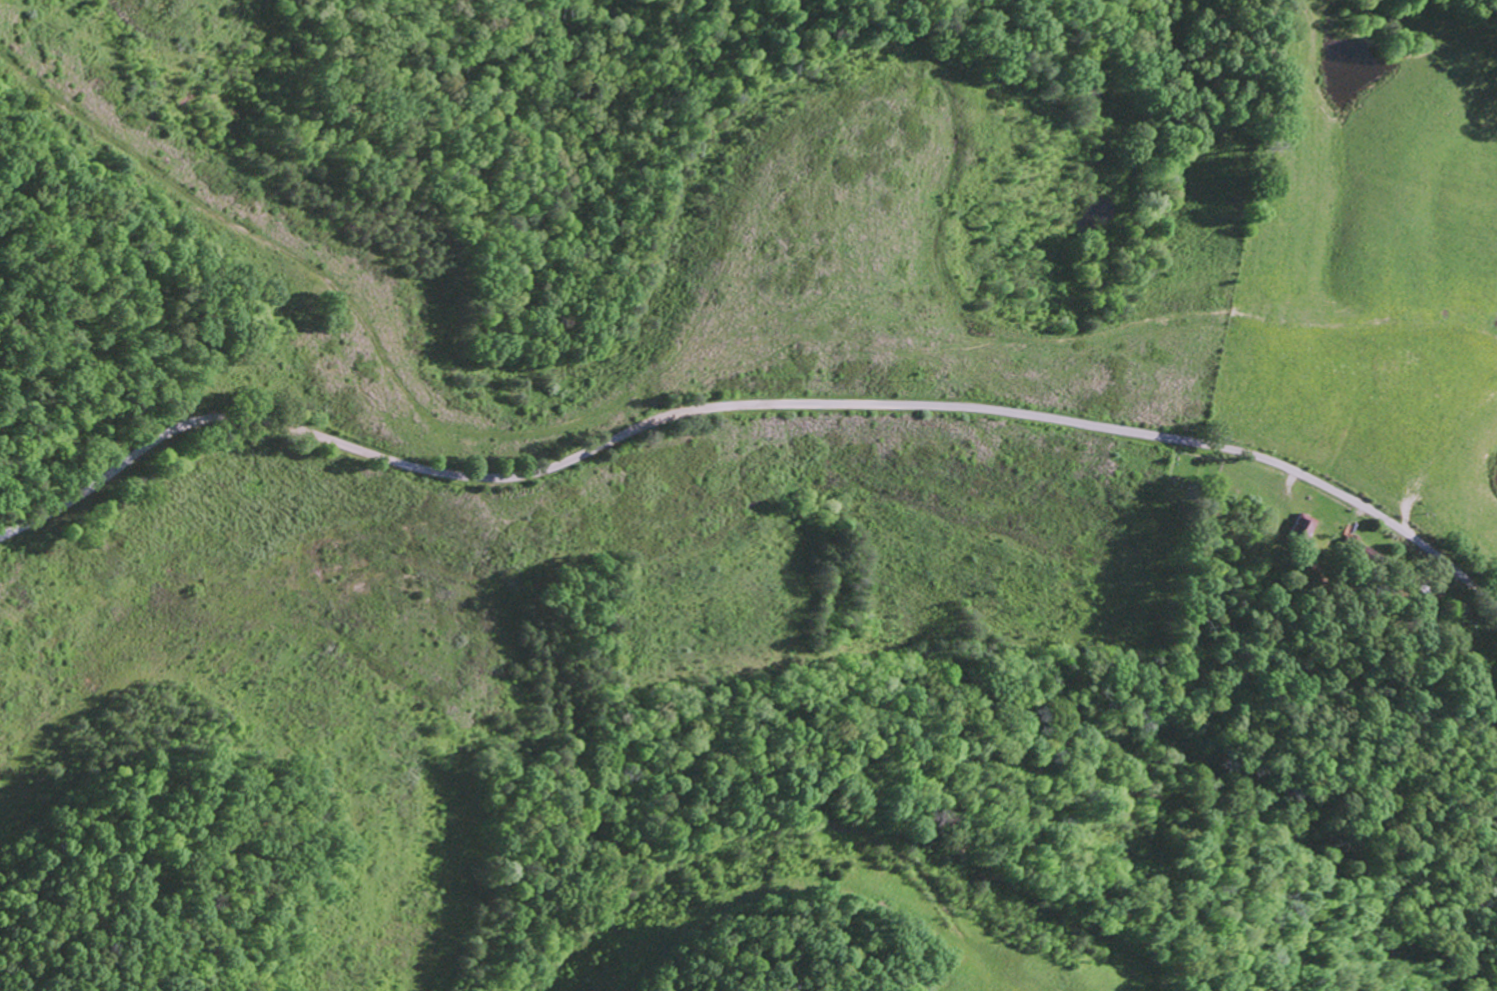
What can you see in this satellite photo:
road: (745, 404)
building: (1303, 527)

